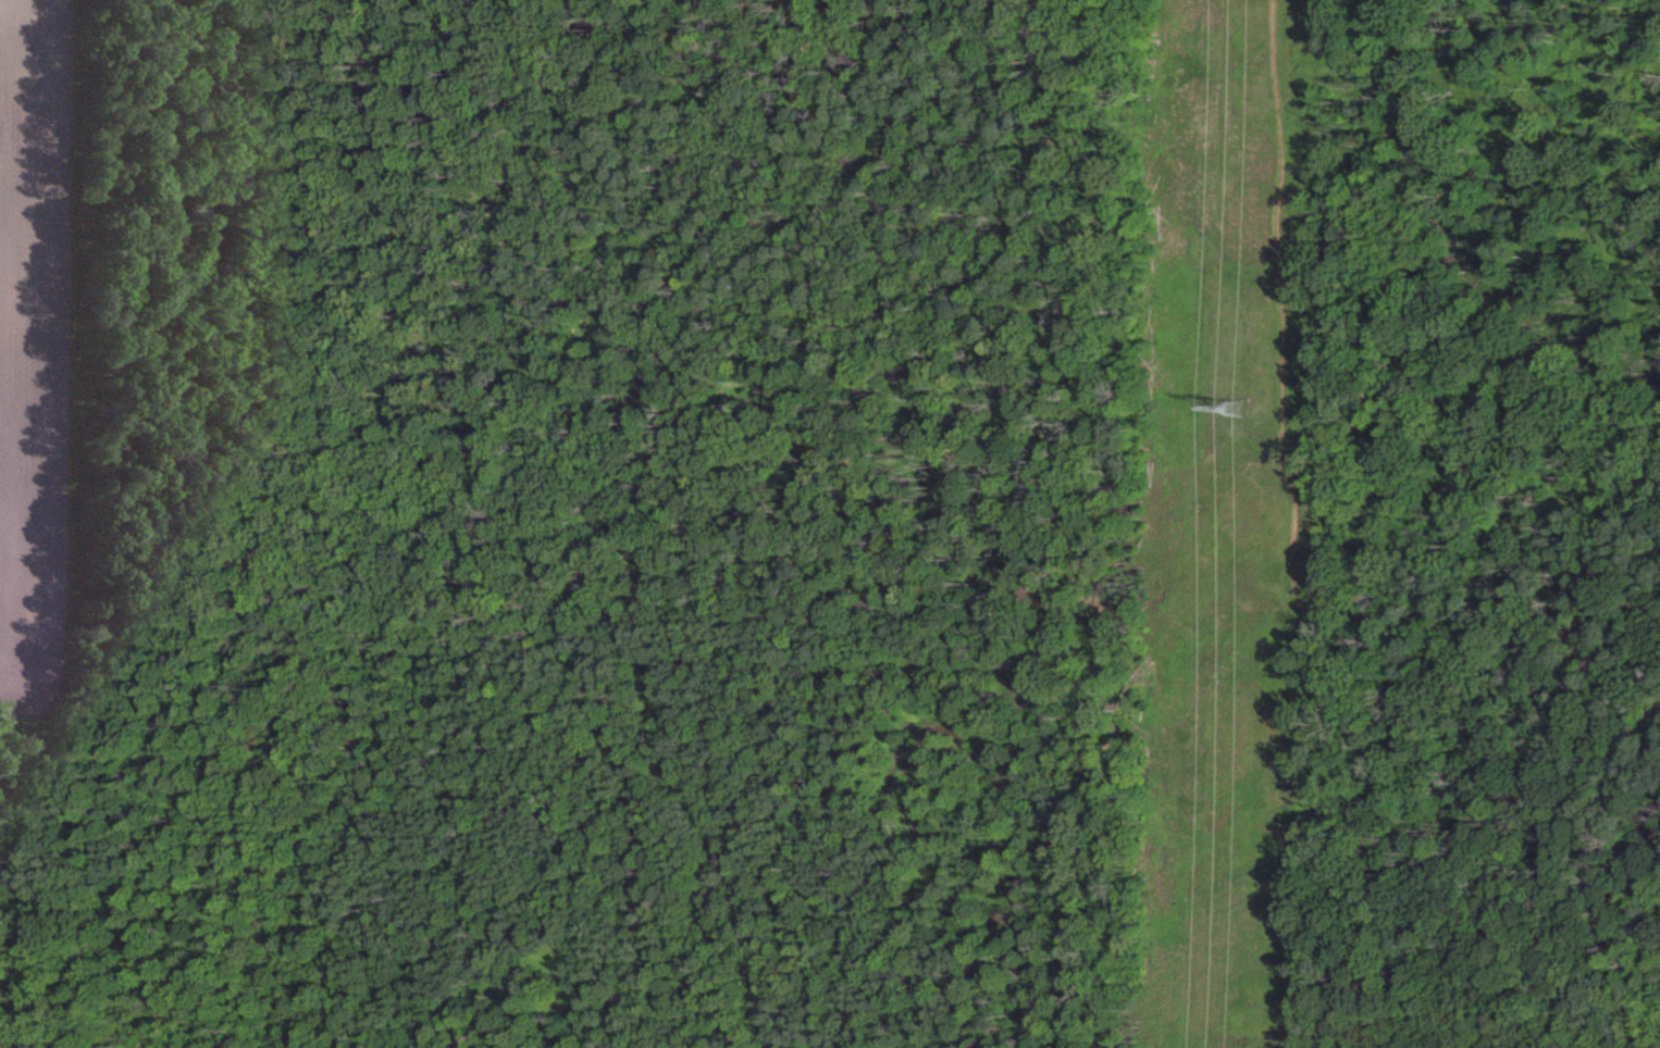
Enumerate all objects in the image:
power tower: (1228, 410)

